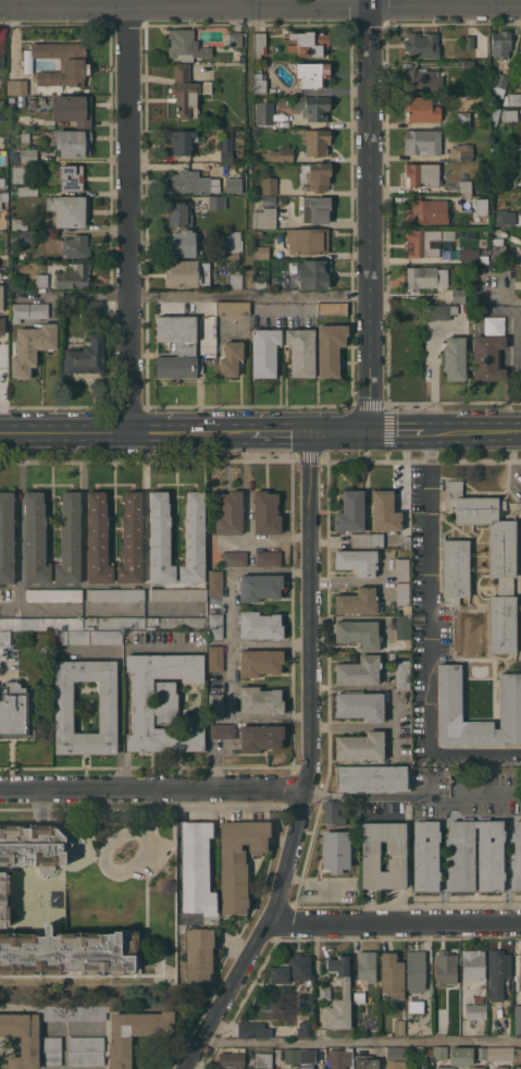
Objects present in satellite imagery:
road: (260, 9)
building: (235, 39)
building: (470, 41)
building: (308, 42)
building: (501, 42)
building: (185, 45)
building: (260, 45)
building: (421, 45)
building: (1, 53)
building: (520, 58)
building: (61, 63)
building: (468, 64)
building: (1, 73)
building: (313, 73)
building: (500, 79)
building: (422, 81)
building: (259, 82)
building: (18, 87)
building: (186, 91)
building: (11, 99)
building: (512, 99)
building: (1, 103)
building: (312, 107)
building: (421, 108)
building: (73, 109)
building: (264, 112)
building: (508, 115)
building: (463, 120)
building: (25, 137)
building: (73, 142)
building: (181, 142)
building: (317, 142)
building: (423, 142)
building: (226, 149)
building: (461, 151)
building: (282, 153)
building: (28, 155)
building: (21, 174)
building: (423, 174)
building: (498, 174)
building: (318, 176)
building: (72, 177)
building: (187, 183)
building: (233, 184)
building: (269, 185)
building: (464, 186)
building: (25, 191)
building: (3, 196)
building: (268, 199)
building: (216, 201)
building: (482, 207)
building: (317, 209)
building: (67, 210)
building: (426, 211)
building: (179, 213)
road: (131, 216)
road: (371, 216)
building: (504, 217)
building: (264, 218)
building: (20, 223)
building: (258, 233)
building: (25, 236)
building: (233, 241)
building: (307, 241)
building: (426, 242)
building: (183, 243)
building: (77, 246)
building: (261, 253)
building: (498, 253)
building: (463, 255)
building: (237, 265)
building: (479, 270)
building: (312, 272)
building: (186, 273)
building: (74, 275)
building: (425, 277)
building: (260, 279)
building: (42, 280)
building: (234, 280)
building: (520, 288)
road: (194, 295)
building: (458, 295)
building: (1, 300)
road: (511, 302)
building: (92, 307)
building: (233, 307)
building: (332, 308)
building: (27, 310)
building: (441, 311)
building: (2, 325)
building: (204, 333)
building: (32, 346)
building: (177, 347)
building: (330, 348)
building: (300, 351)
building: (488, 351)
building: (264, 352)
building: (85, 356)
building: (454, 357)
building: (231, 358)
road: (472, 431)
road: (125, 432)
road: (278, 432)
traffic signals: (308, 432)
road: (338, 432)
traffic signals: (370, 432)
road: (397, 432)
building: (350, 512)
building: (384, 512)
building: (230, 513)
building: (265, 513)
building: (7, 536)
building: (35, 539)
building: (70, 539)
building: (98, 539)
building: (132, 539)
road: (146, 539)
building: (160, 539)
building: (194, 539)
building: (367, 540)
building: (407, 541)
building: (501, 550)
building: (235, 558)
building: (268, 558)
building: (357, 561)
building: (402, 569)
building: (455, 570)
building: (215, 582)
building: (260, 587)
road: (427, 592)
building: (53, 594)
building: (116, 594)
building: (178, 594)
building: (404, 597)
building: (357, 601)
building: (51, 623)
building: (113, 623)
building: (175, 623)
building: (10, 624)
building: (503, 624)
building: (260, 625)
building: (215, 626)
building: (358, 632)
building: (399, 634)
building: (91, 637)
building: (5, 638)
building: (215, 658)
building: (392, 658)
building: (260, 662)
building: (359, 671)
building: (404, 674)
building: (260, 700)
building: (161, 702)
building: (215, 704)
building: (360, 705)
building: (449, 705)
building: (14, 712)
building: (64, 712)
building: (222, 730)
building: (260, 737)
building: (361, 746)
road: (473, 755)
road: (309, 764)
building: (371, 777)
road: (153, 788)
road: (414, 794)
road: (38, 806)
building: (334, 813)
road: (150, 830)
building: (33, 847)
building: (335, 850)
building: (517, 855)
building: (370, 856)
building: (425, 856)
building: (461, 856)
building: (238, 860)
building: (197, 868)
building: (4, 899)
road: (396, 922)
building: (67, 953)
building: (199, 954)
building: (473, 963)
building: (367, 966)
building: (498, 966)
building: (445, 968)
building: (291, 969)
building: (415, 971)
building: (519, 972)
building: (392, 975)
building: (346, 986)
building: (482, 991)
building: (358, 992)
building: (324, 993)
building: (477, 998)
building: (306, 1003)
building: (415, 1006)
building: (475, 1011)
building: (75, 1012)
building: (517, 1019)
building: (399, 1027)
road: (74, 1028)
building: (305, 1029)
building: (252, 1030)
building: (135, 1033)
building: (23, 1039)
road: (361, 1041)
road: (63, 1048)
building: (52, 1050)
building: (86, 1050)
building: (397, 1053)
building: (441, 1053)
building: (481, 1053)
building: (500, 1053)
building: (430, 1054)
building: (291, 1056)
building: (308, 1056)
building: (461, 1056)
building: (518, 1056)
building: (339, 1058)
building: (232, 1059)
building: (263, 1059)
building: (364, 1061)
building: (396, 1065)
building: (501, 1067)
building: (445, 1068)
building: (475, 1068)

